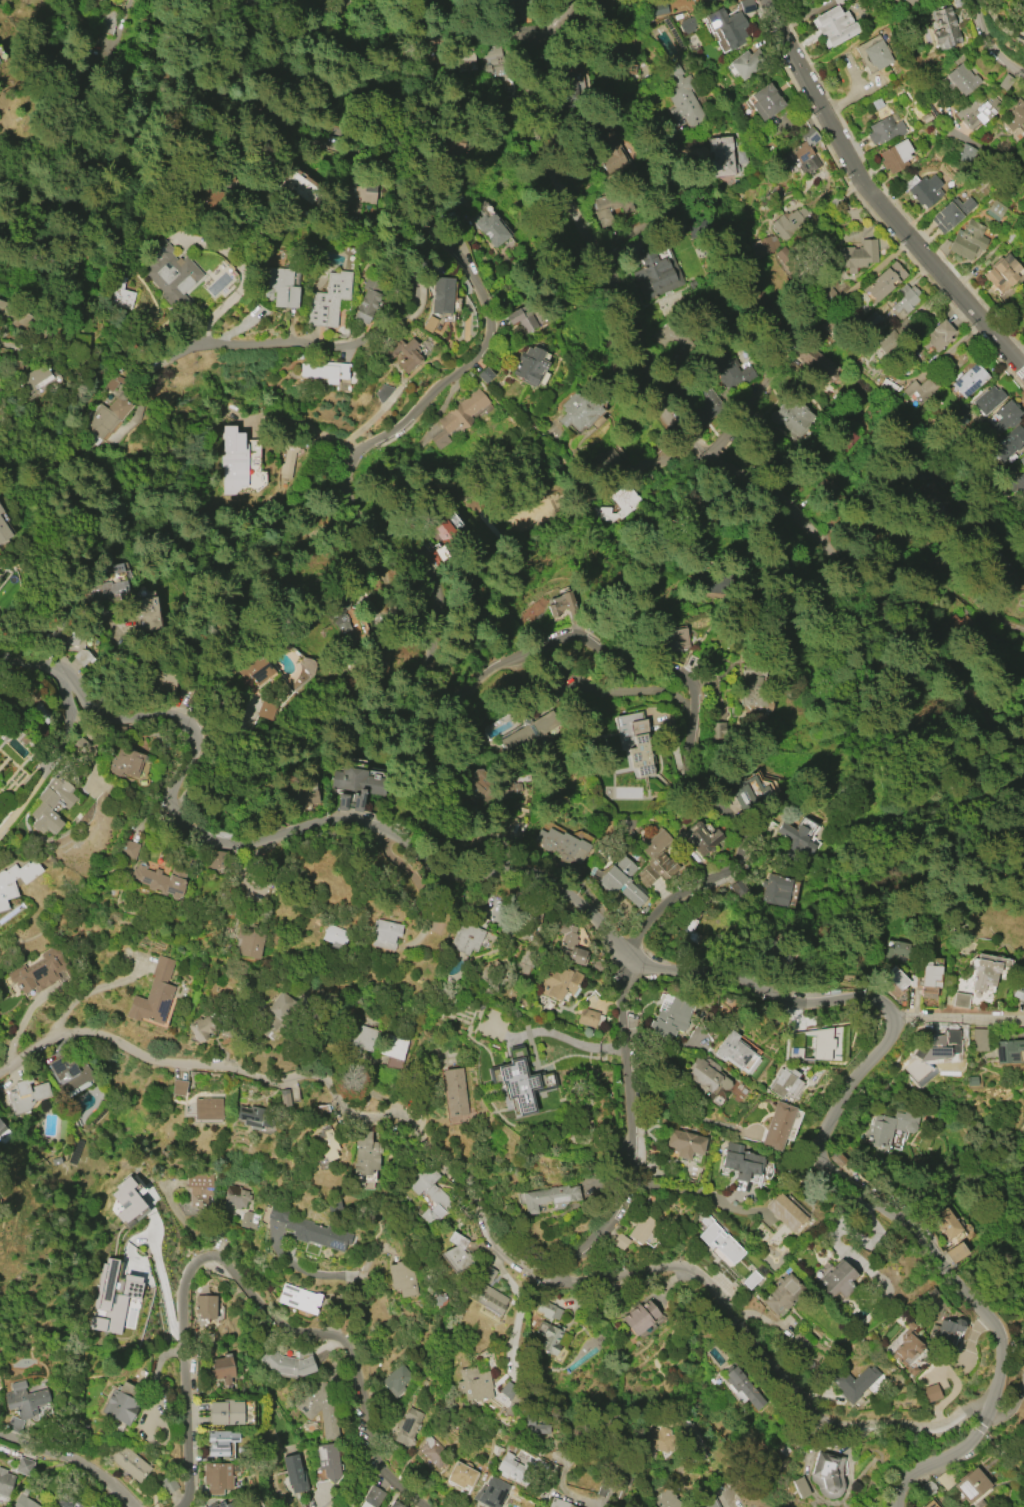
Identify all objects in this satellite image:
building: (834, 0)
building: (1023, 0)
building: (840, 1)
building: (911, 2)
building: (524, 6)
building: (746, 6)
building: (657, 9)
road: (559, 14)
building: (107, 20)
building: (687, 25)
building: (727, 26)
building: (834, 26)
building: (944, 26)
road: (494, 35)
road: (988, 43)
building: (1023, 44)
building: (873, 54)
building: (468, 63)
building: (746, 63)
building: (962, 79)
building: (570, 86)
building: (682, 97)
building: (765, 102)
building: (978, 109)
building: (1011, 115)
building: (927, 117)
building: (885, 129)
building: (453, 144)
building: (803, 152)
building: (722, 156)
building: (896, 157)
road: (1000, 162)
building: (300, 187)
building: (922, 189)
building: (357, 195)
road: (874, 200)
building: (995, 210)
building: (1022, 210)
building: (609, 211)
building: (952, 213)
building: (490, 228)
building: (783, 238)
building: (964, 241)
road: (595, 250)
building: (856, 255)
road: (875, 268)
building: (168, 271)
building: (654, 273)
building: (1003, 273)
building: (883, 282)
building: (282, 287)
building: (121, 294)
building: (443, 296)
building: (905, 299)
building: (329, 300)
building: (368, 301)
building: (1023, 314)
road: (405, 317)
building: (523, 317)
building: (14, 318)
building: (871, 320)
road: (487, 324)
building: (937, 336)
building: (887, 341)
building: (404, 353)
building: (817, 362)
building: (530, 365)
road: (1023, 368)
building: (728, 369)
building: (323, 372)
building: (484, 375)
building: (35, 378)
road: (144, 378)
building: (969, 380)
building: (889, 388)
building: (922, 388)
building: (987, 399)
building: (581, 409)
building: (1005, 415)
building: (106, 416)
building: (458, 417)
building: (791, 418)
road: (732, 426)
road: (309, 429)
building: (1008, 443)
building: (290, 455)
building: (233, 460)
building: (609, 460)
building: (1021, 464)
road: (654, 473)
building: (1010, 482)
building: (623, 498)
building: (935, 498)
building: (1, 511)
building: (4, 532)
building: (448, 538)
building: (438, 540)
building: (108, 588)
road: (877, 588)
building: (565, 605)
building: (145, 615)
building: (340, 622)
building: (960, 624)
building: (672, 640)
building: (70, 642)
building: (381, 660)
building: (253, 667)
building: (752, 686)
building: (266, 709)
building: (41, 714)
building: (531, 738)
building: (634, 741)
building: (79, 747)
road: (1022, 748)
road: (1022, 752)
road: (56, 757)
building: (125, 762)
building: (477, 783)
building: (354, 787)
building: (509, 789)
building: (303, 796)
building: (743, 797)
building: (51, 805)
road: (399, 829)
building: (701, 838)
building: (562, 844)
building: (794, 844)
building: (127, 849)
building: (656, 859)
building: (216, 860)
road: (721, 873)
building: (159, 879)
building: (621, 881)
building: (738, 889)
building: (775, 889)
building: (7, 890)
building: (685, 927)
building: (384, 933)
building: (333, 934)
building: (465, 938)
building: (249, 939)
building: (569, 945)
building: (774, 956)
building: (985, 971)
building: (42, 972)
building: (928, 980)
building: (560, 982)
building: (892, 982)
building: (1019, 993)
road: (82, 995)
building: (153, 995)
building: (962, 1001)
building: (274, 1013)
road: (947, 1014)
building: (586, 1017)
building: (671, 1017)
building: (206, 1028)
road: (553, 1033)
building: (360, 1037)
building: (980, 1039)
building: (810, 1045)
building: (392, 1046)
building: (1009, 1051)
building: (735, 1053)
building: (933, 1058)
building: (70, 1074)
building: (704, 1075)
building: (782, 1082)
building: (518, 1084)
building: (177, 1087)
building: (454, 1092)
building: (26, 1096)
building: (284, 1097)
building: (207, 1108)
building: (252, 1117)
road: (695, 1118)
building: (1, 1125)
building: (778, 1126)
building: (882, 1131)
building: (327, 1143)
building: (684, 1143)
building: (365, 1153)
building: (739, 1160)
road: (1016, 1166)
building: (199, 1189)
road: (693, 1192)
building: (429, 1194)
building: (234, 1196)
building: (548, 1197)
building: (128, 1202)
road: (879, 1204)
building: (785, 1212)
building: (248, 1219)
building: (948, 1222)
building: (641, 1228)
building: (309, 1229)
building: (620, 1241)
building: (719, 1241)
road: (493, 1244)
building: (956, 1252)
building: (456, 1255)
road: (157, 1268)
building: (485, 1274)
building: (403, 1278)
building: (839, 1281)
road: (358, 1284)
road: (246, 1287)
building: (780, 1294)
building: (487, 1297)
building: (112, 1298)
building: (299, 1298)
building: (205, 1304)
building: (548, 1310)
road: (521, 1311)
building: (639, 1317)
building: (945, 1330)
building: (550, 1338)
building: (905, 1347)
building: (289, 1363)
building: (222, 1369)
building: (397, 1380)
building: (852, 1383)
building: (474, 1384)
building: (509, 1392)
building: (930, 1392)
building: (24, 1399)
building: (122, 1404)
building: (444, 1404)
building: (320, 1406)
building: (226, 1412)
building: (534, 1426)
building: (408, 1427)
building: (657, 1439)
building: (220, 1443)
building: (496, 1448)
building: (434, 1453)
road: (946, 1456)
road: (75, 1457)
building: (327, 1459)
building: (128, 1461)
building: (23, 1466)
building: (507, 1466)
building: (294, 1472)
building: (827, 1473)
building: (460, 1475)
building: (217, 1478)
building: (944, 1479)
building: (5, 1483)
building: (168, 1484)
building: (971, 1485)
building: (926, 1489)
building: (493, 1492)
building: (24, 1499)
road: (327, 1500)
building: (663, 1500)
building: (70, 1502)
building: (239, 1502)
building: (558, 1503)
building: (711, 1503)
building: (394, 1504)
building: (931, 1504)

